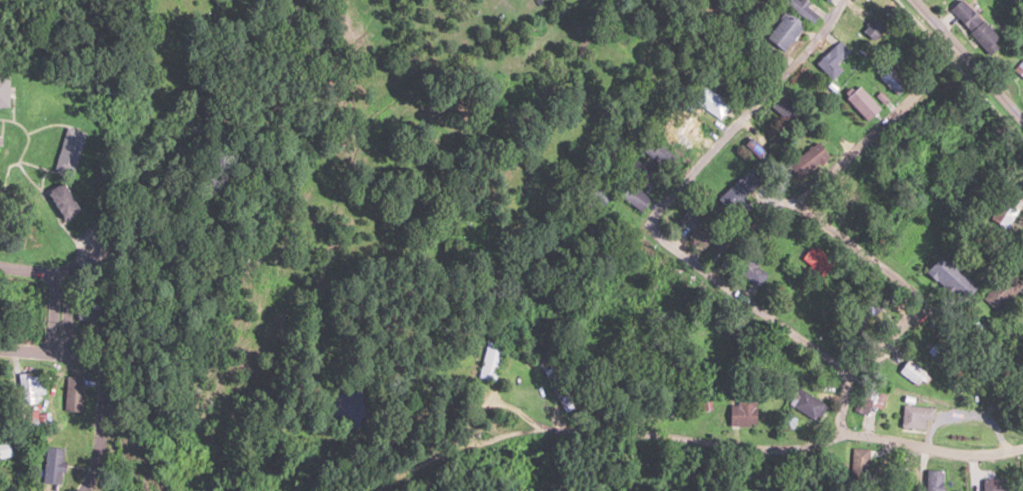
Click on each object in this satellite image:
building: (826, 0)
building: (751, 9)
building: (801, 9)
building: (973, 24)
building: (872, 28)
building: (783, 30)
building: (831, 58)
road: (967, 62)
building: (1018, 68)
building: (891, 79)
building: (4, 89)
building: (711, 102)
building: (861, 102)
building: (785, 109)
building: (682, 139)
building: (663, 154)
building: (65, 155)
building: (806, 160)
building: (642, 172)
building: (596, 195)
building: (633, 197)
building: (58, 198)
road: (661, 205)
building: (1004, 210)
road: (817, 217)
building: (815, 261)
building: (750, 271)
building: (948, 278)
road: (58, 285)
building: (1001, 290)
building: (683, 294)
building: (737, 328)
building: (523, 350)
road: (52, 352)
building: (489, 361)
building: (910, 373)
building: (28, 388)
building: (71, 393)
building: (805, 403)
road: (843, 403)
building: (867, 403)
building: (741, 412)
building: (915, 416)
road: (98, 430)
road: (929, 448)
building: (3, 449)
road: (655, 450)
building: (50, 465)
road: (910, 467)
building: (858, 468)
building: (928, 481)
building: (994, 484)

